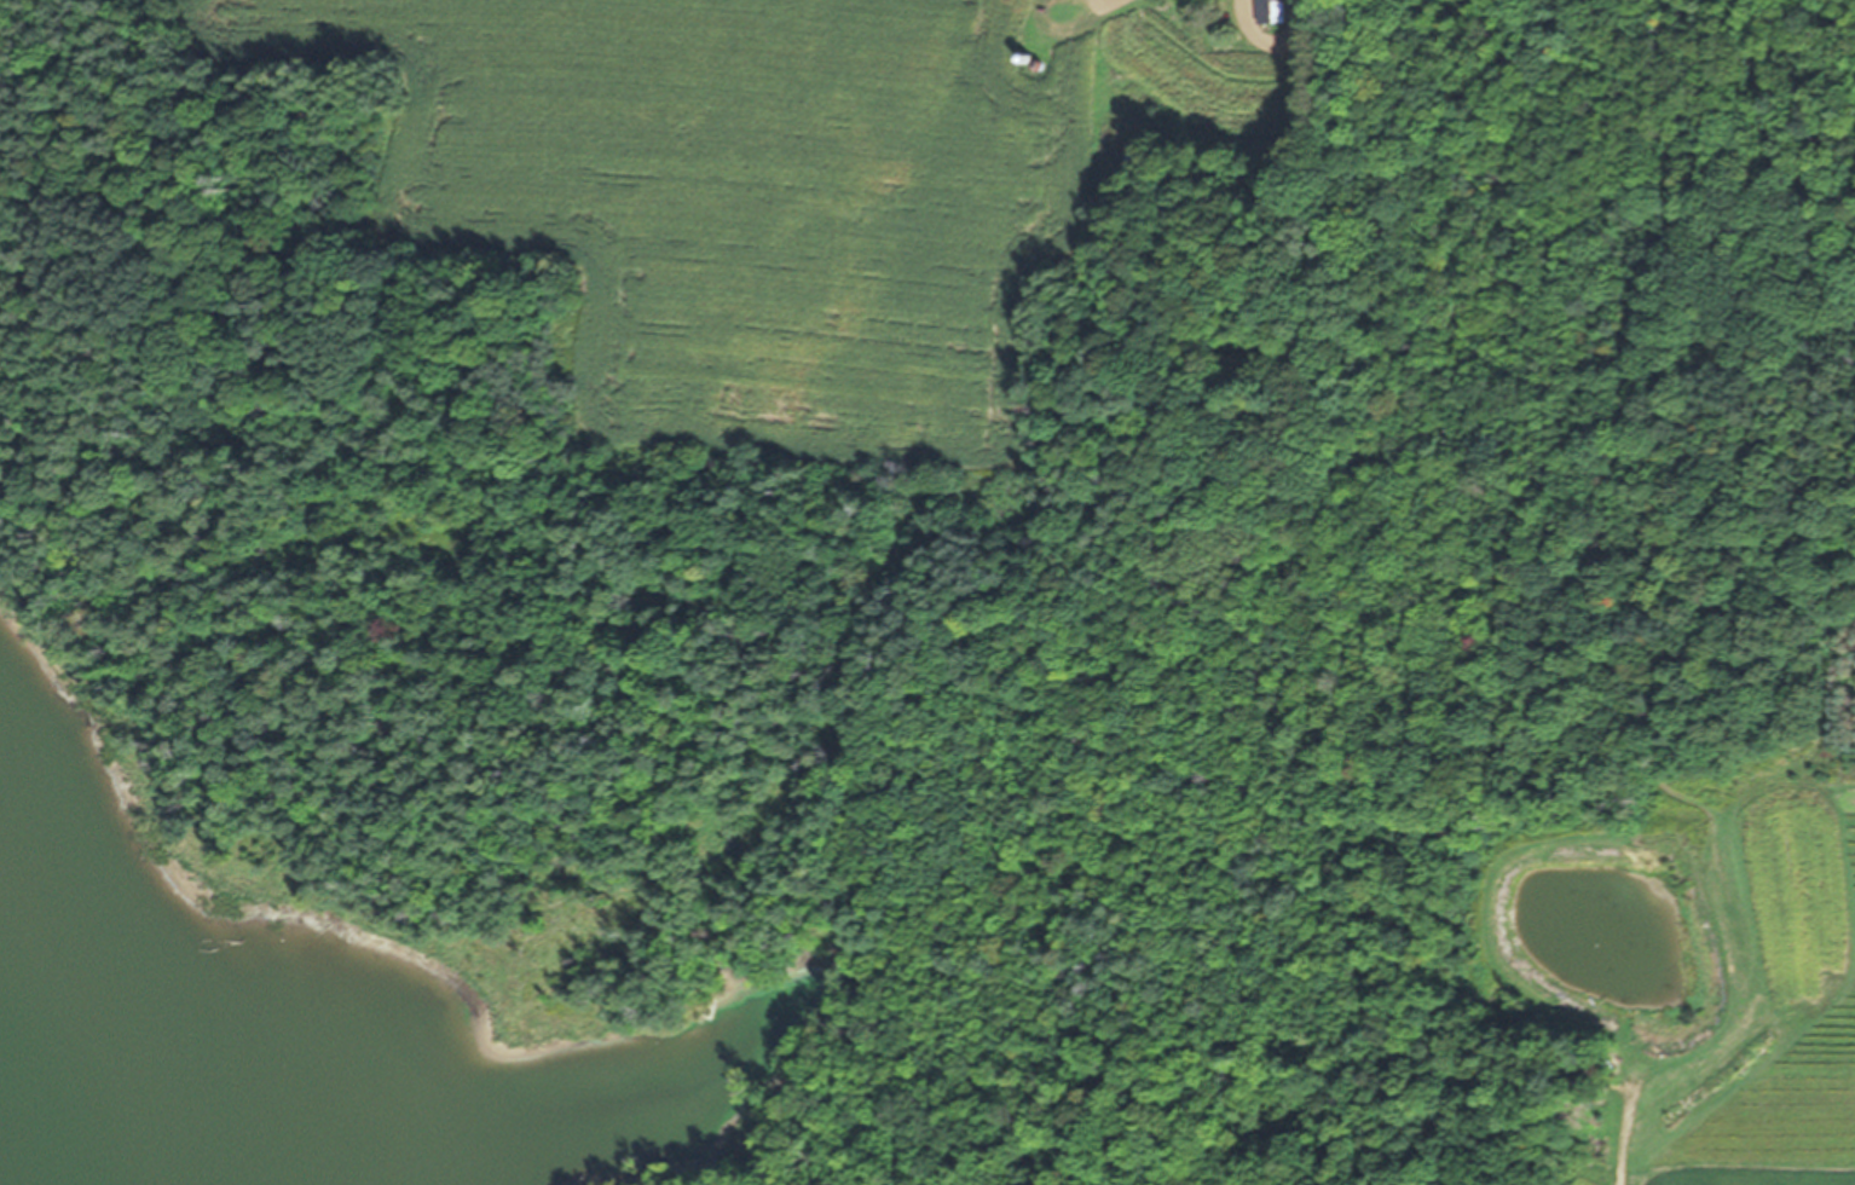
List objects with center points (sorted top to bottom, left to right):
building: (1271, 12)
building: (1190, 22)
crop: (756, 201)
crop: (1758, 988)

